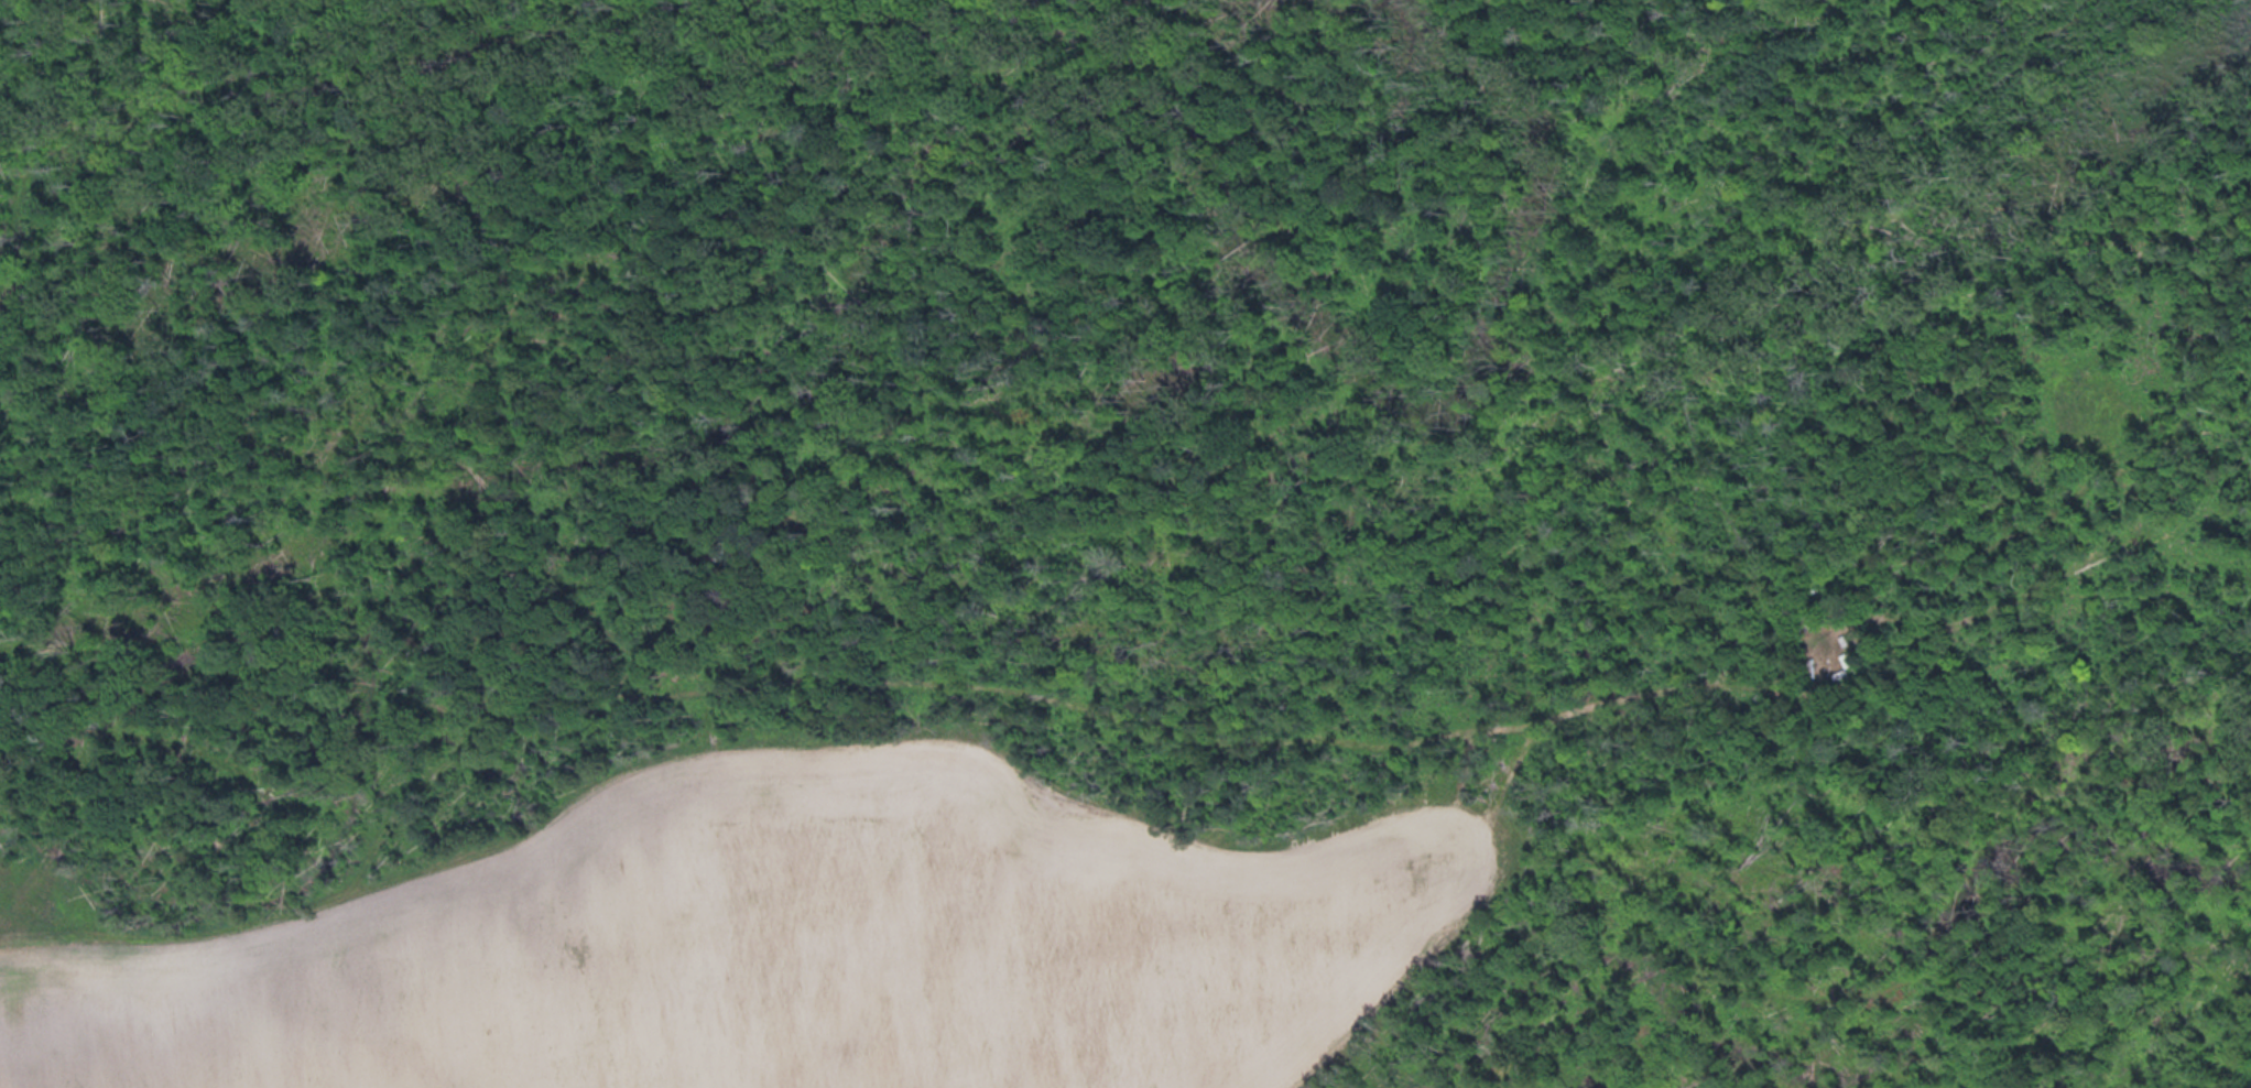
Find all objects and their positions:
road: (511, 233)

